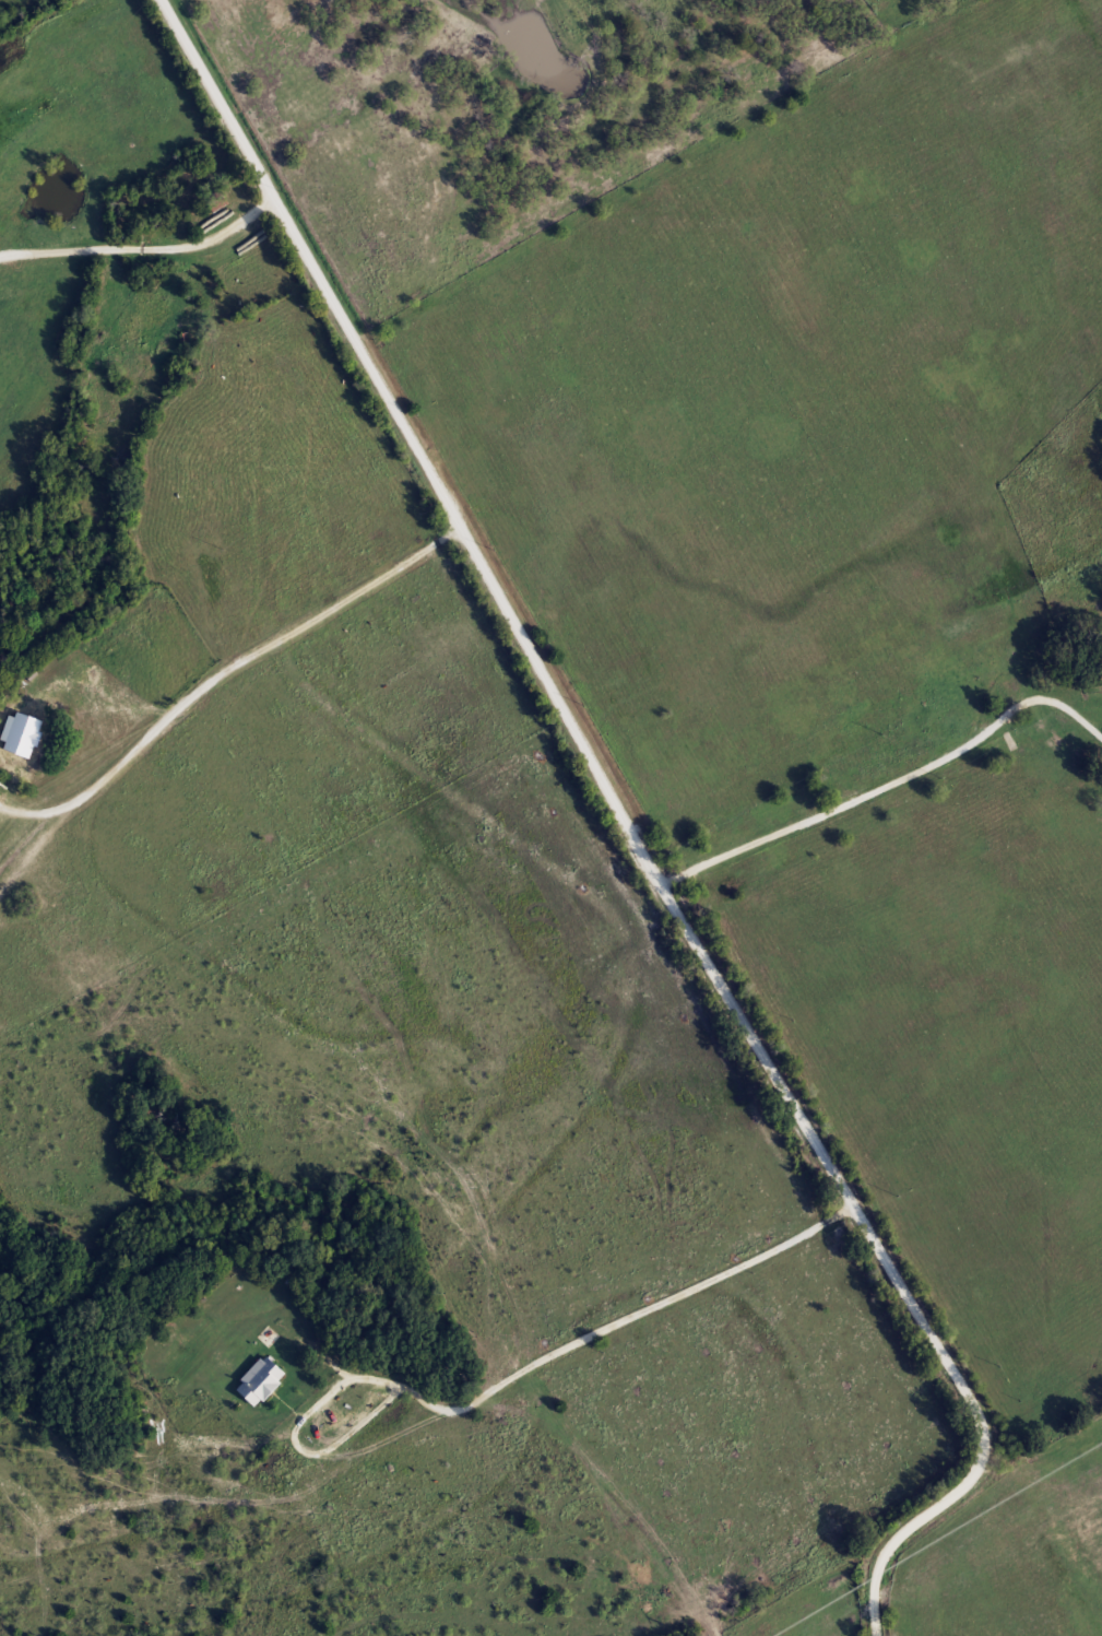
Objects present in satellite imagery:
building: (214, 200)
road: (143, 246)
road: (222, 668)
building: (12, 735)
road: (889, 777)
road: (630, 827)
road: (503, 1380)
building: (256, 1382)

